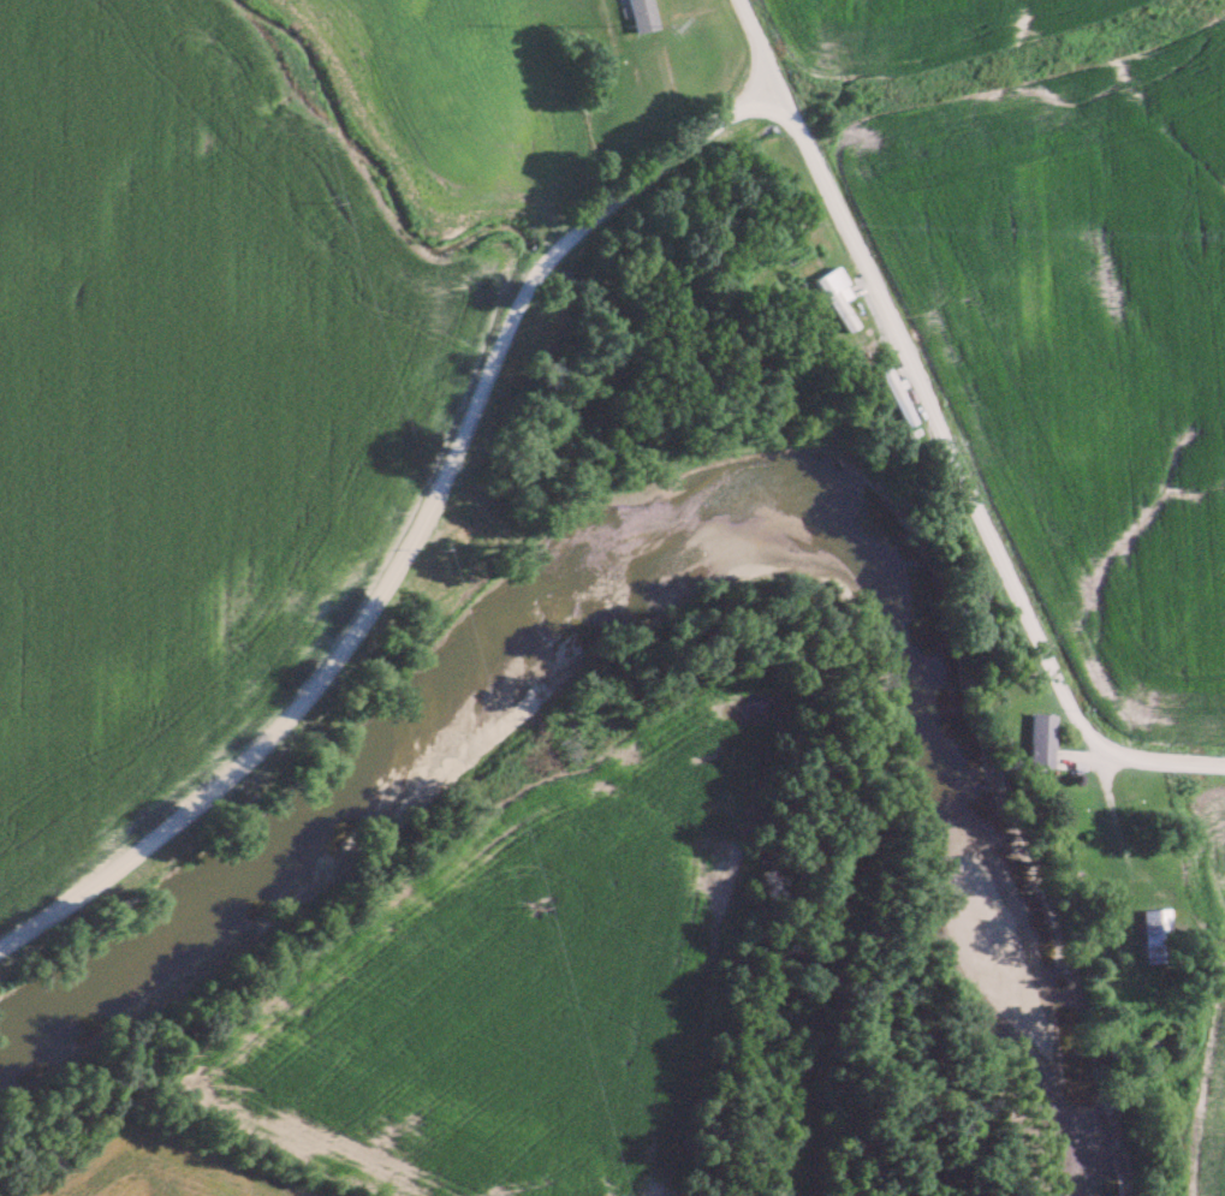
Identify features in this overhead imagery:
building: (642, 12)
building: (837, 296)
building: (893, 395)
road: (942, 433)
river: (694, 531)
road: (417, 534)
building: (1039, 739)
building: (1156, 933)

